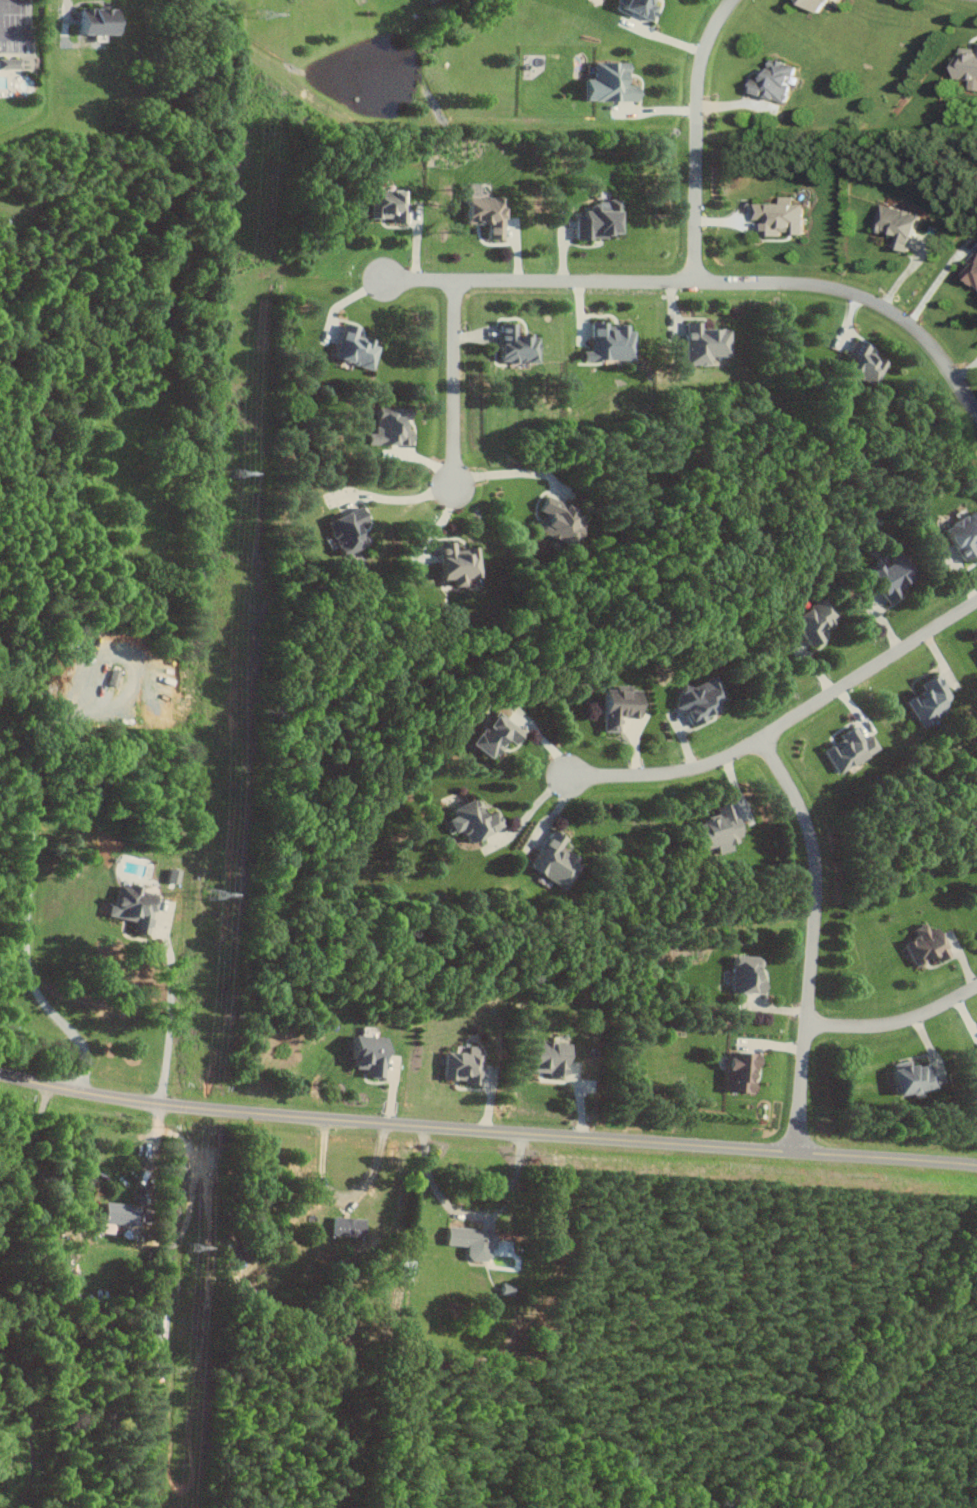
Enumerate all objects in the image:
building: (810, 4)
building: (633, 7)
power tower: (264, 14)
building: (91, 20)
road: (14, 34)
building: (9, 63)
building: (965, 65)
building: (769, 80)
building: (605, 83)
road: (699, 137)
building: (383, 205)
building: (481, 214)
building: (776, 216)
building: (595, 220)
building: (894, 225)
road: (936, 278)
road: (706, 283)
building: (606, 342)
building: (701, 343)
building: (512, 345)
building: (351, 348)
building: (860, 363)
road: (457, 386)
building: (385, 428)
road: (513, 472)
power tower: (236, 473)
road: (399, 497)
building: (557, 522)
building: (344, 531)
building: (961, 535)
building: (453, 563)
building: (886, 578)
building: (810, 620)
building: (696, 700)
building: (925, 700)
building: (615, 707)
road: (782, 722)
building: (490, 735)
building: (847, 749)
road: (527, 801)
building: (469, 821)
building: (715, 830)
building: (550, 861)
building: (168, 874)
power tower: (214, 893)
road: (27, 905)
building: (129, 905)
road: (813, 939)
building: (922, 944)
building: (743, 974)
road: (170, 1015)
road: (896, 1024)
building: (364, 1053)
building: (543, 1057)
building: (459, 1064)
building: (736, 1071)
building: (906, 1077)
road: (487, 1133)
road: (153, 1154)
road: (30, 1180)
road: (345, 1200)
building: (116, 1212)
road: (470, 1213)
building: (345, 1226)
building: (468, 1241)
power tower: (193, 1248)
building: (404, 1268)

